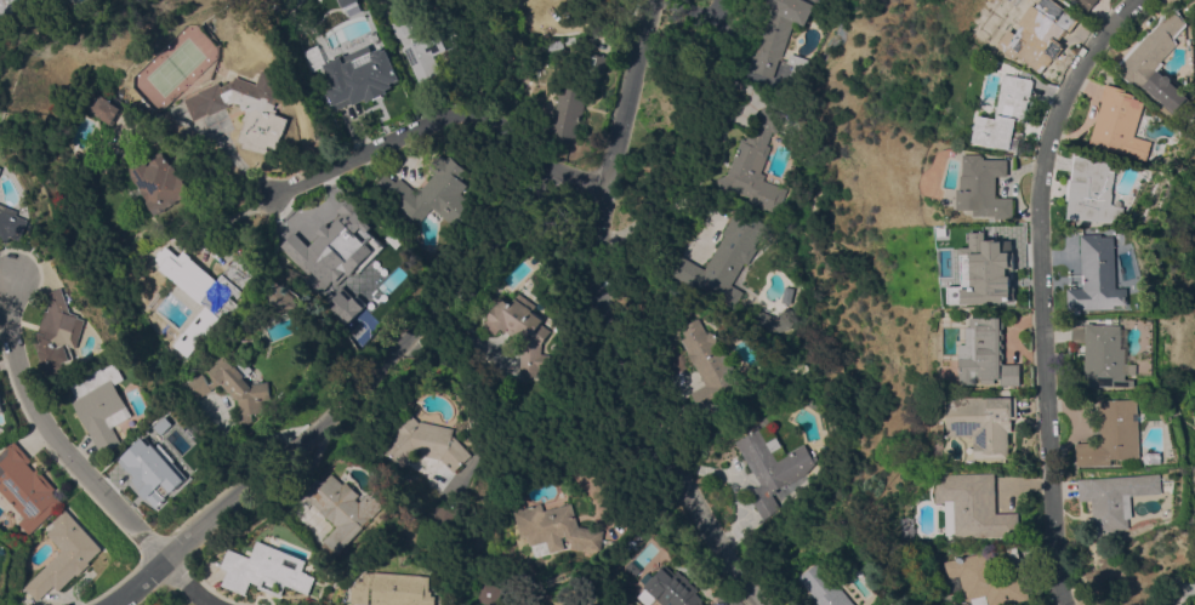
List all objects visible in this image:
building: (562, 0)
building: (345, 1)
building: (513, 2)
building: (1093, 2)
building: (13, 6)
building: (531, 8)
building: (0, 21)
building: (776, 33)
building: (1051, 33)
building: (574, 40)
building: (554, 44)
building: (420, 47)
building: (1163, 61)
building: (593, 64)
building: (796, 67)
road: (700, 69)
building: (353, 86)
building: (527, 87)
building: (247, 107)
building: (102, 108)
building: (567, 112)
building: (1014, 113)
building: (1128, 122)
road: (402, 131)
building: (755, 165)
building: (0, 167)
building: (158, 181)
building: (992, 186)
building: (1100, 189)
building: (1176, 189)
building: (432, 192)
building: (11, 223)
building: (329, 250)
building: (725, 259)
building: (1000, 268)
building: (1105, 275)
building: (206, 276)
road: (1052, 286)
building: (785, 293)
building: (281, 298)
building: (341, 304)
road: (608, 318)
building: (770, 320)
building: (201, 327)
building: (520, 330)
building: (791, 330)
building: (59, 333)
building: (994, 353)
building: (1111, 354)
building: (709, 364)
road: (366, 382)
building: (234, 384)
road: (471, 396)
building: (102, 404)
building: (0, 406)
building: (990, 421)
building: (1119, 433)
building: (427, 443)
building: (157, 457)
building: (1157, 457)
road: (75, 463)
building: (772, 467)
building: (25, 486)
building: (1120, 498)
building: (979, 506)
building: (342, 508)
building: (445, 515)
building: (556, 527)
building: (64, 554)
building: (632, 567)
building: (264, 570)
building: (992, 580)
building: (545, 583)
building: (825, 587)
building: (393, 589)
building: (668, 589)
building: (489, 593)
building: (706, 604)

